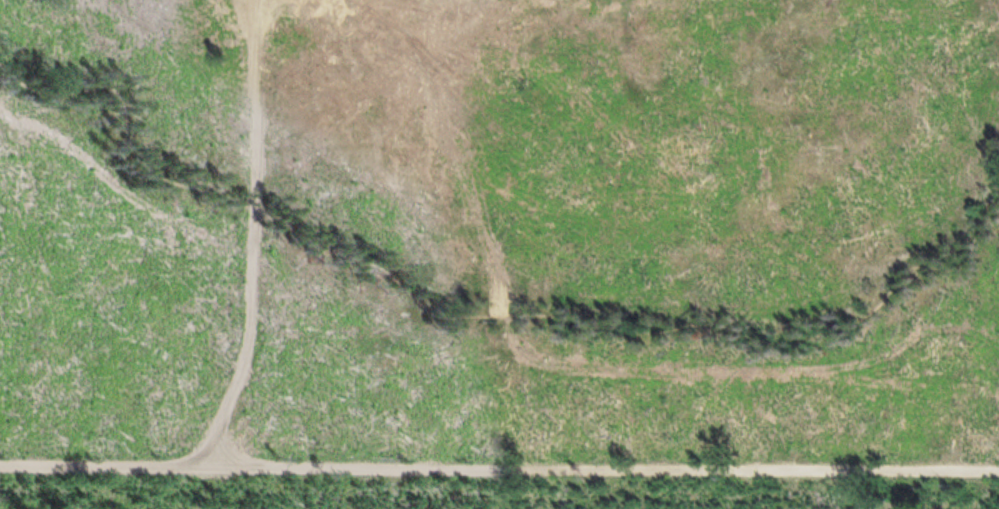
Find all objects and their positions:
road: (833, 237)
road: (255, 240)
road: (466, 310)
road: (499, 471)
road: (41, 489)

